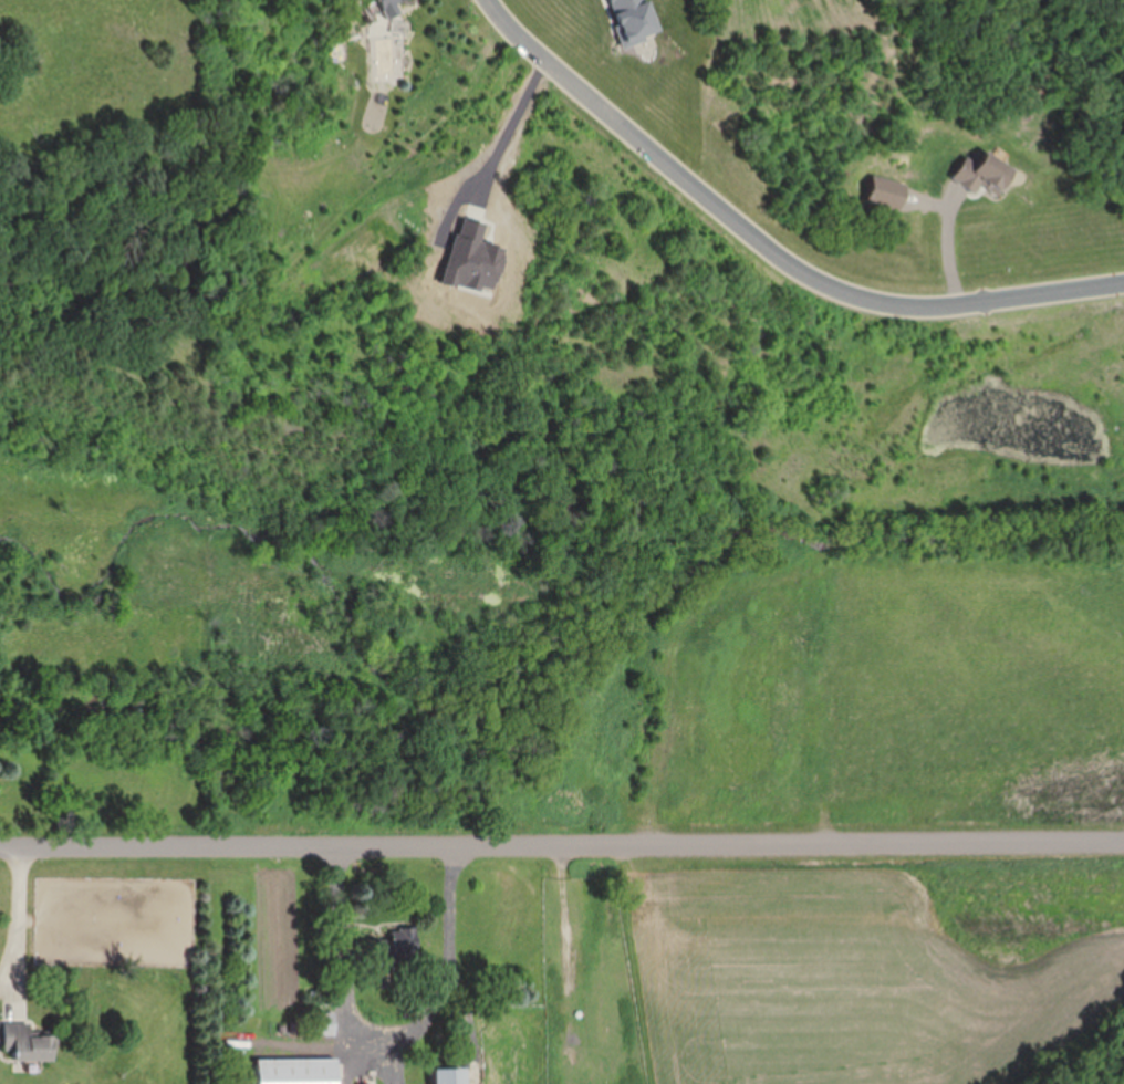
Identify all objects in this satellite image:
building: (392, 4)
road: (514, 123)
building: (982, 177)
road: (767, 249)
road: (562, 850)
road: (15, 932)
building: (392, 948)
building: (324, 1025)
building: (28, 1044)
road: (387, 1044)
road: (306, 1046)
building: (296, 1072)
building: (450, 1076)

